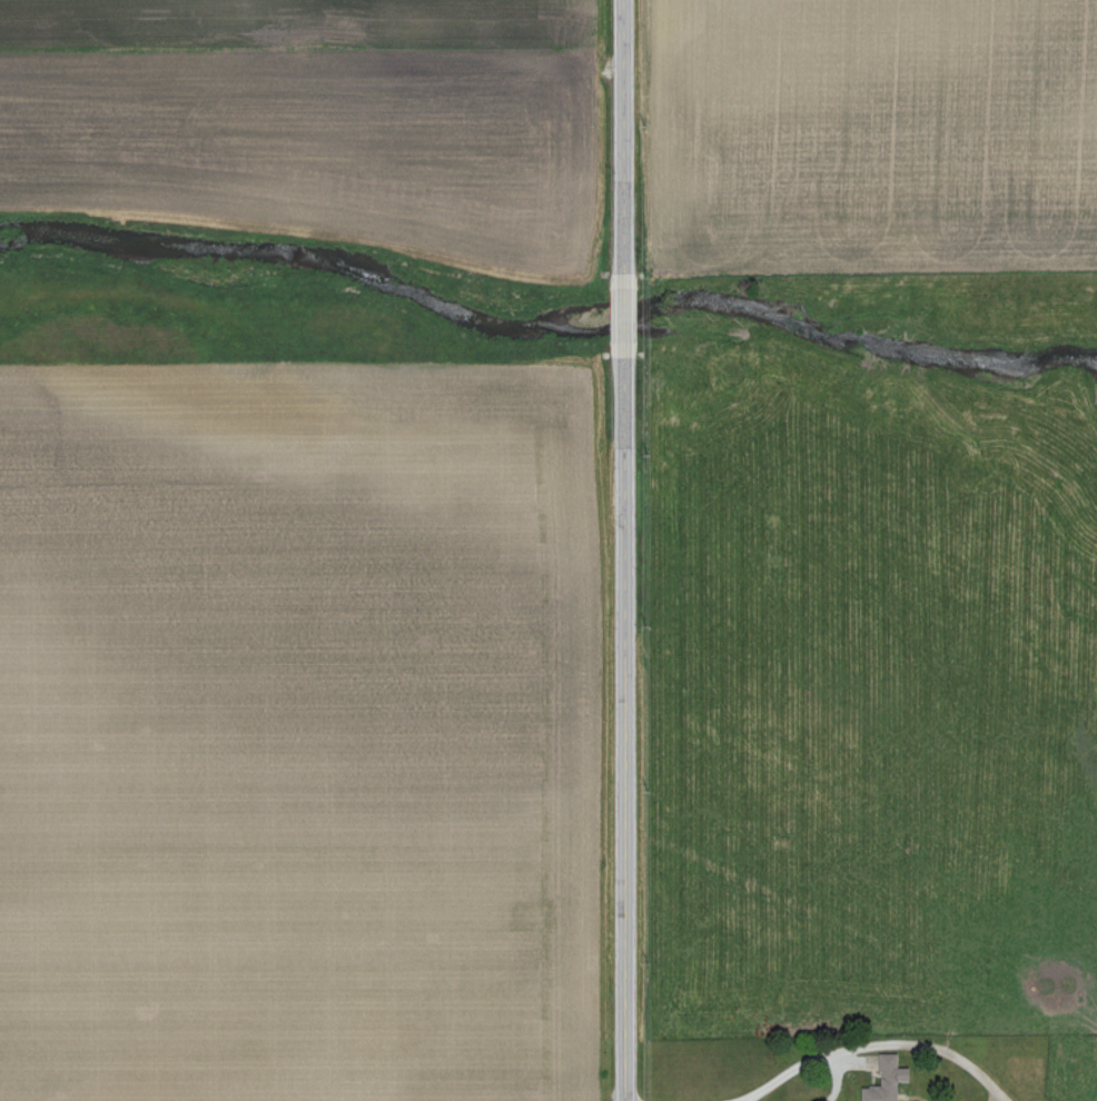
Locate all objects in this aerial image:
road: (624, 135)
road: (623, 314)
road: (623, 728)
road: (874, 1044)
building: (893, 1081)

